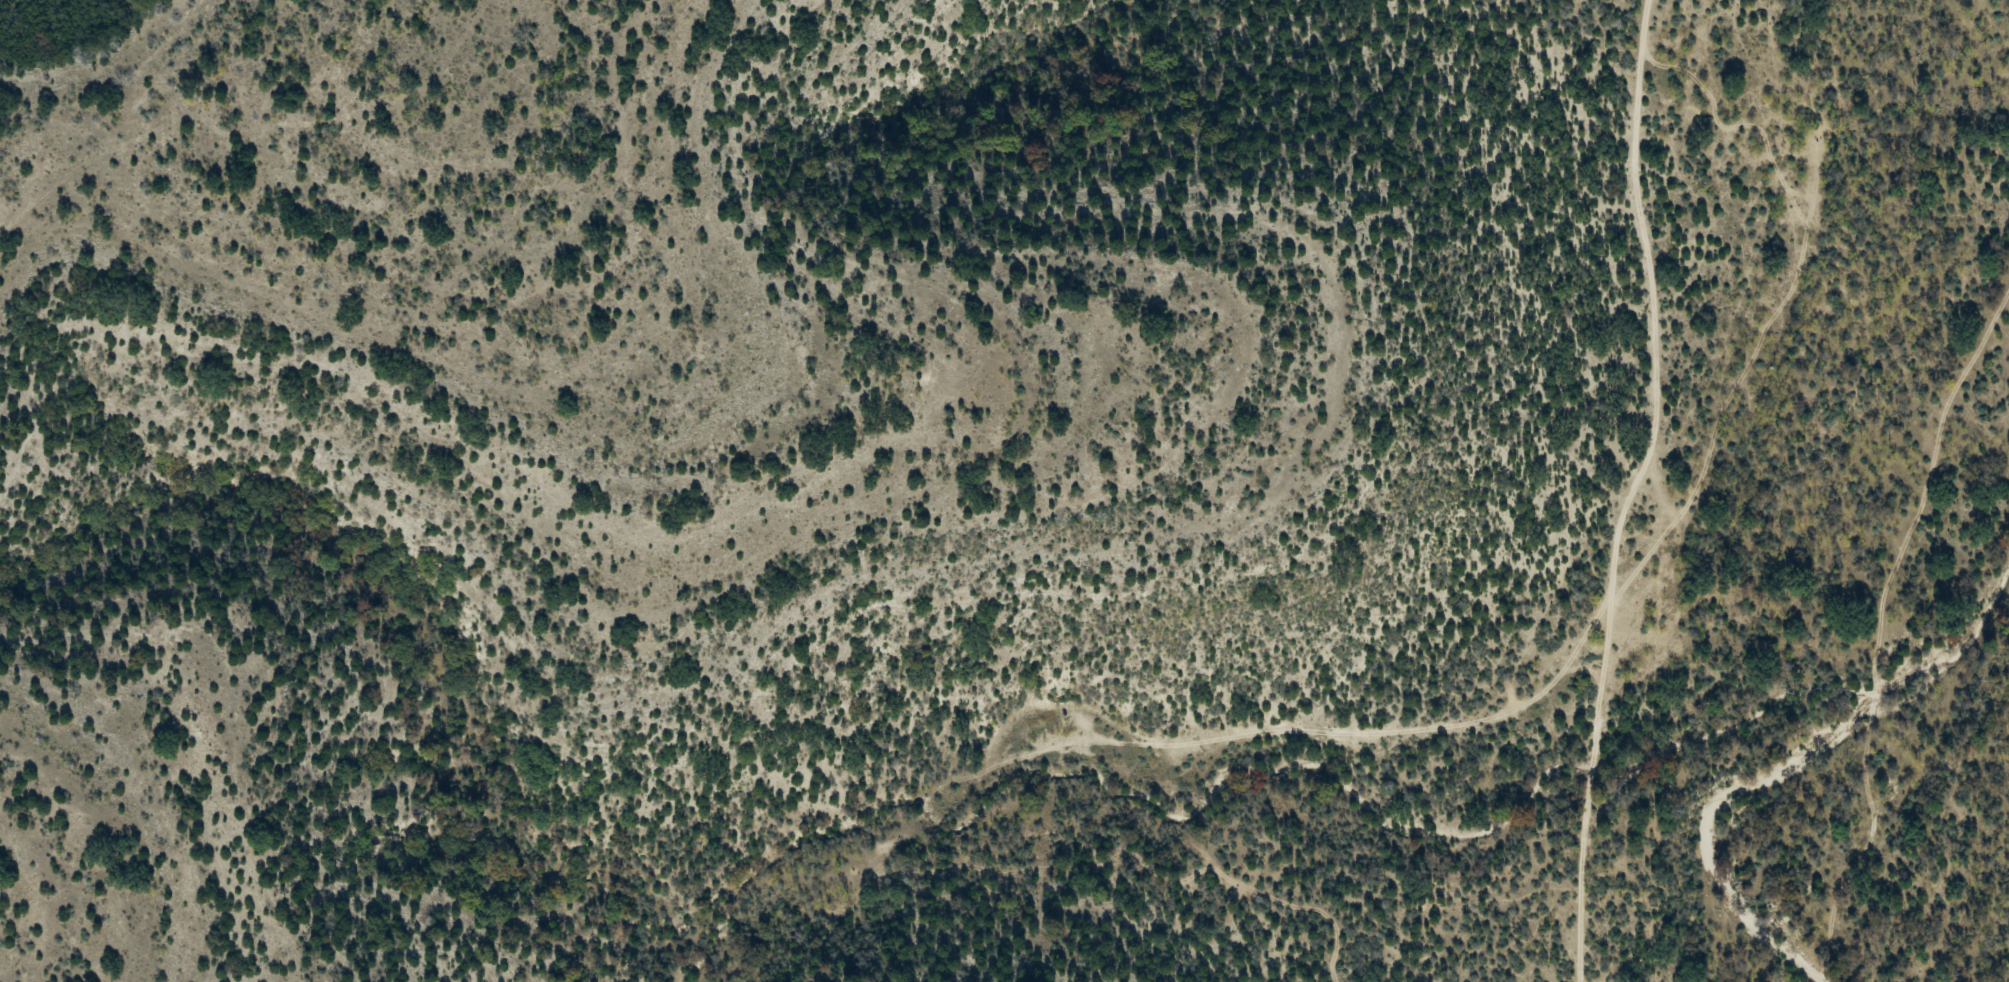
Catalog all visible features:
road: (1648, 490)

